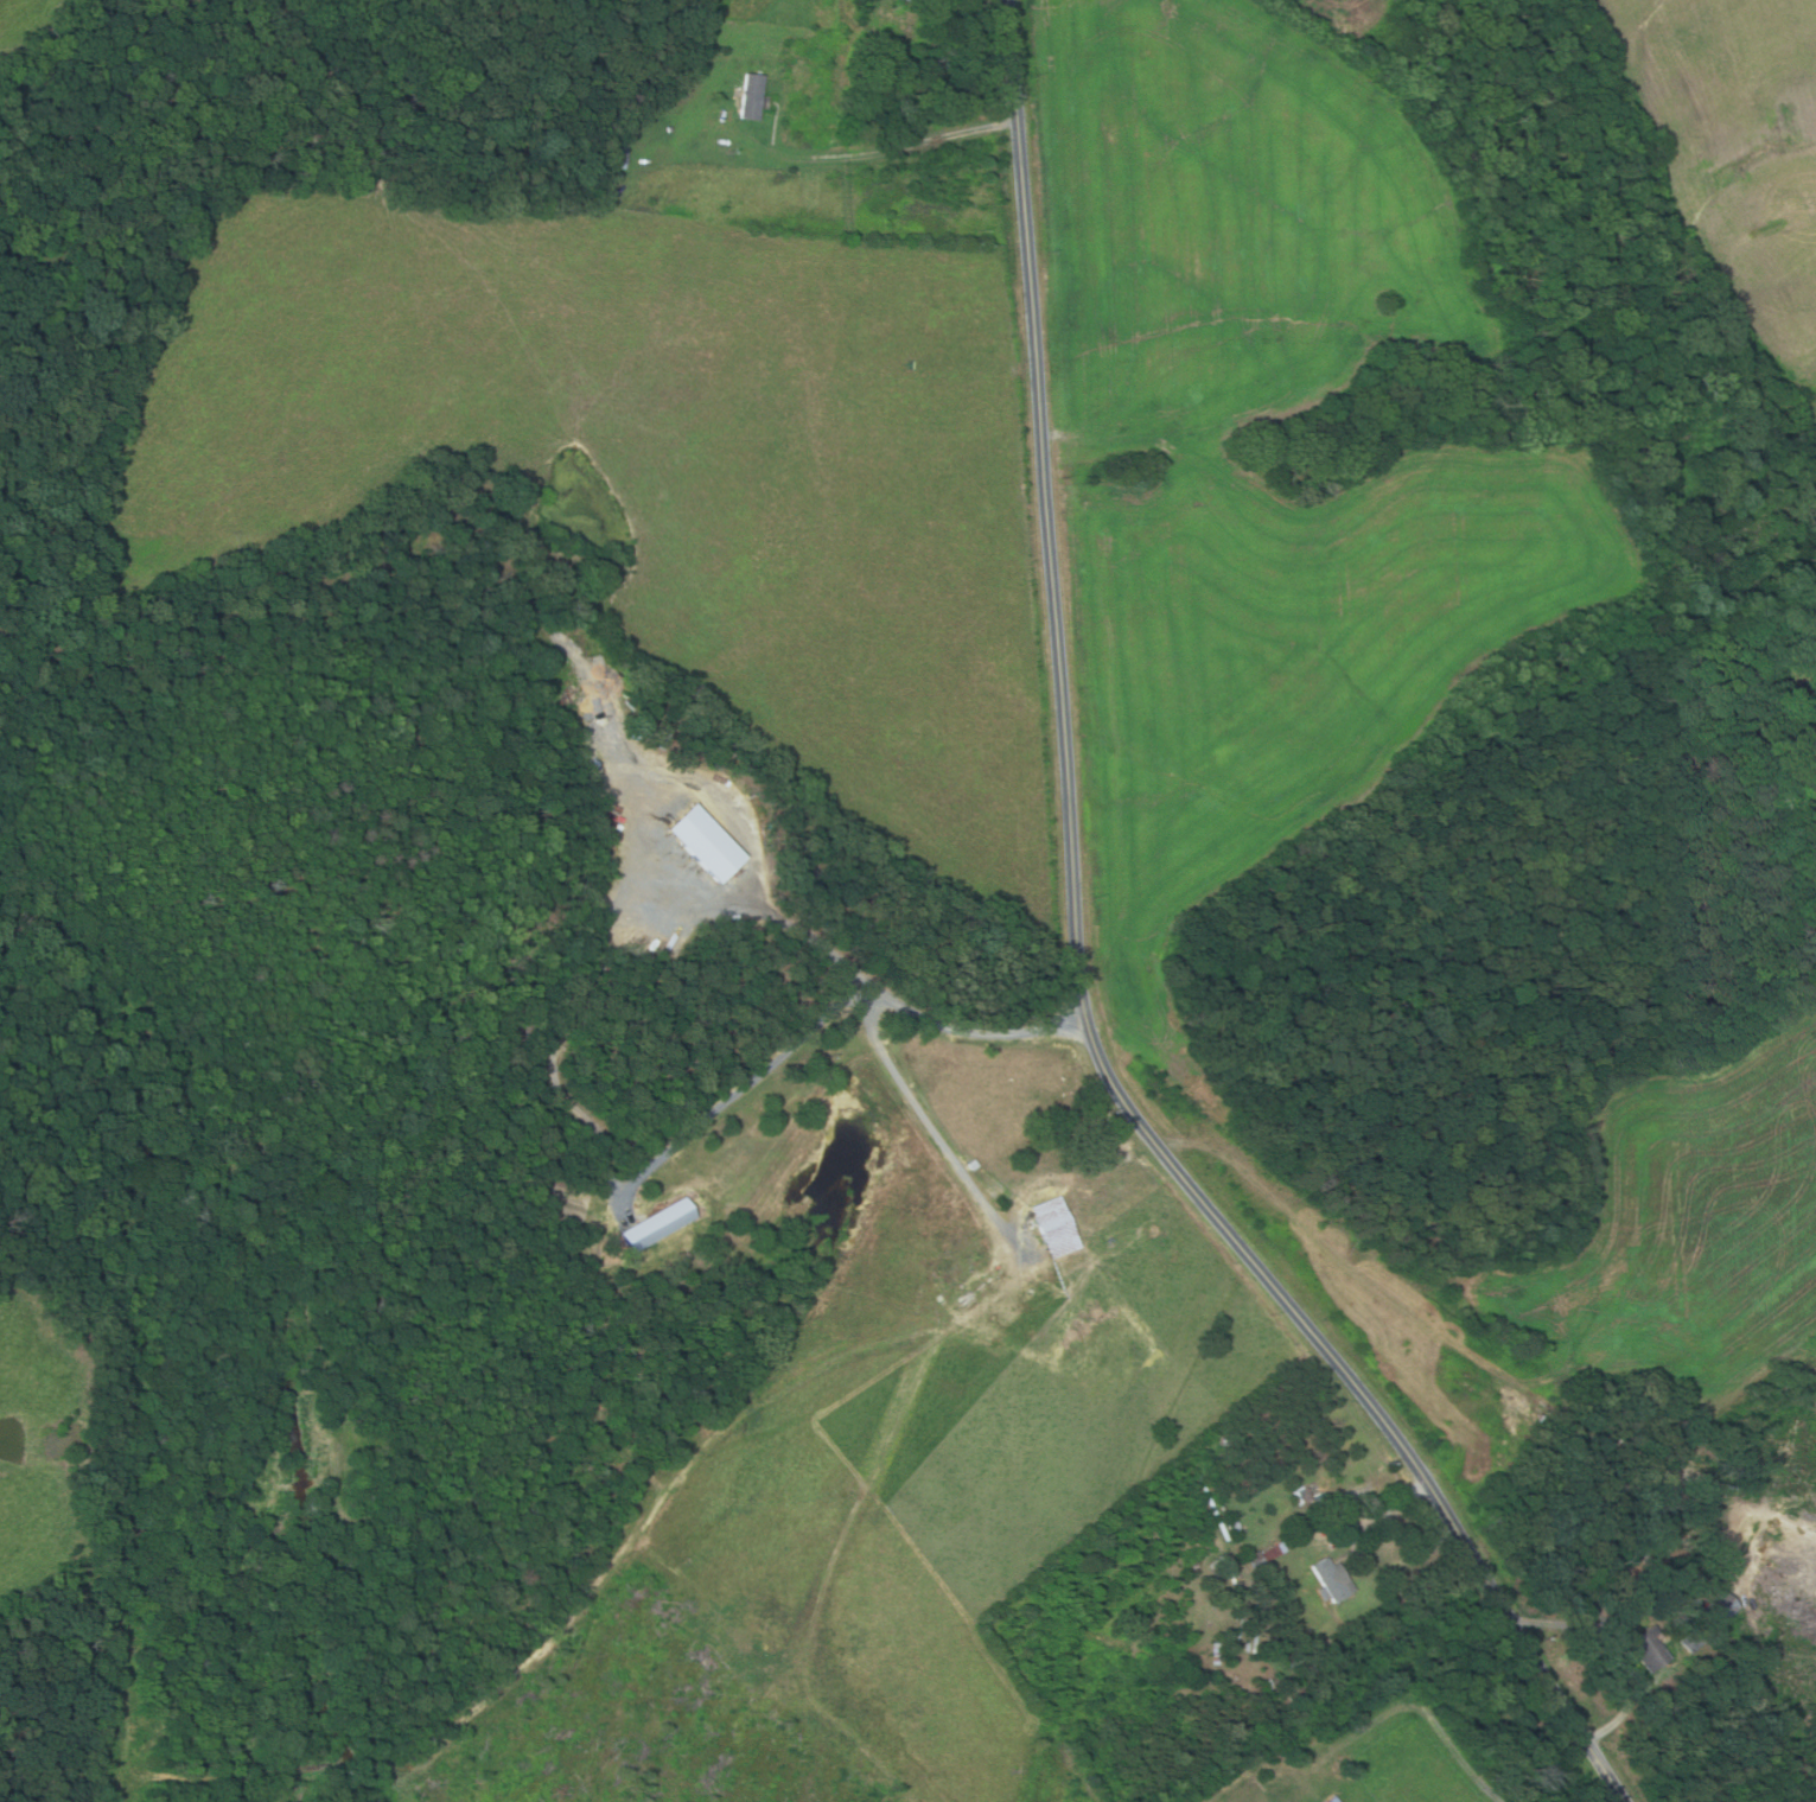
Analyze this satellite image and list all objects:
building: (916, 0)
crop: (1349, 15)
building: (751, 95)
road: (894, 146)
crop: (1731, 149)
building: (617, 152)
crop: (1351, 533)
building: (703, 842)
road: (1081, 983)
road: (898, 1011)
road: (750, 1095)
road: (977, 1191)
building: (656, 1225)
building: (1054, 1227)
building: (1302, 1494)
building: (1321, 1501)
building: (1295, 1503)
building: (1234, 1524)
building: (1369, 1533)
road: (1390, 1537)
building: (1275, 1552)
building: (1255, 1560)
building: (1331, 1580)
building: (1716, 1610)
building: (1693, 1641)
building: (1270, 1647)
building: (1645, 1649)
road: (1619, 1650)
building: (1215, 1653)
building: (1298, 1696)
building: (1331, 1798)

